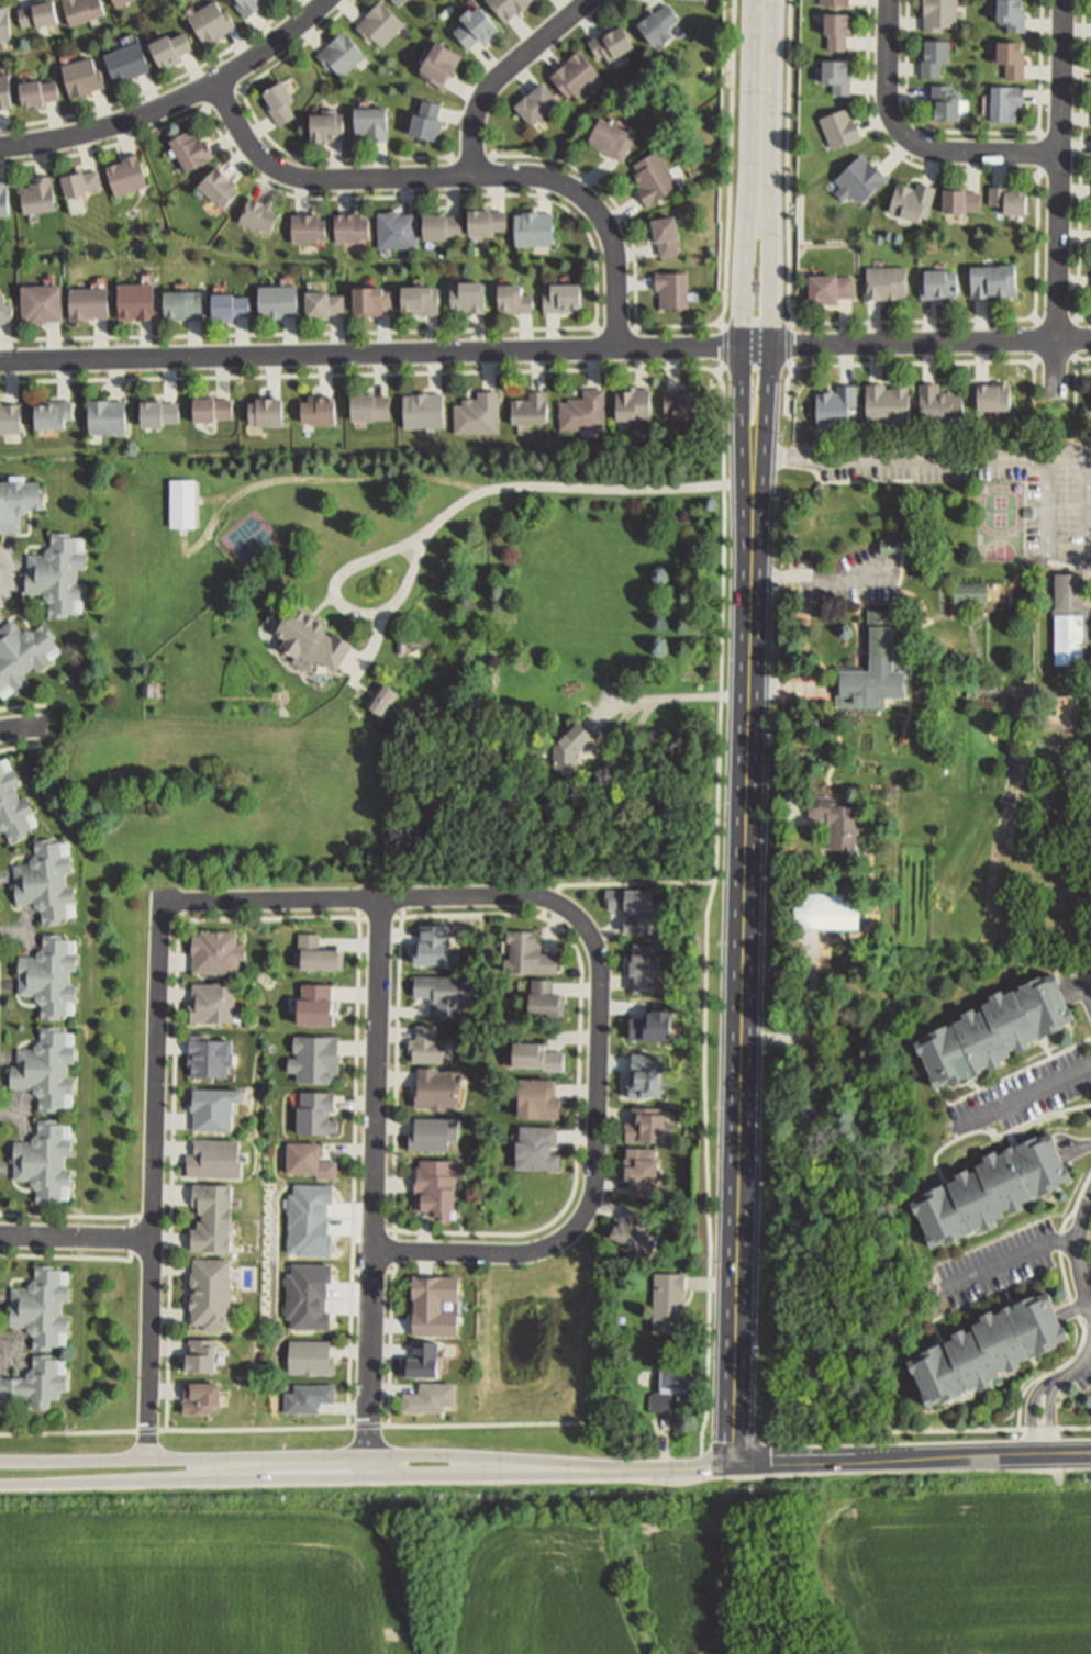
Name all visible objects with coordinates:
building: (695, 0)
building: (119, 1)
building: (399, 1)
building: (835, 1)
building: (248, 4)
building: (509, 7)
building: (82, 9)
building: (37, 12)
building: (939, 13)
building: (1013, 13)
building: (212, 20)
building: (381, 21)
building: (659, 22)
building: (4, 23)
building: (475, 25)
building: (838, 27)
building: (611, 42)
road: (765, 45)
building: (169, 47)
building: (342, 53)
building: (934, 55)
building: (1013, 56)
building: (127, 60)
building: (439, 63)
road: (502, 71)
building: (838, 74)
building: (81, 75)
building: (576, 75)
road: (159, 88)
road: (242, 90)
building: (3, 91)
building: (37, 91)
road: (222, 98)
building: (279, 100)
building: (946, 100)
building: (537, 101)
building: (1005, 101)
road: (175, 102)
road: (207, 110)
building: (427, 119)
building: (371, 121)
building: (327, 125)
building: (839, 127)
road: (980, 132)
road: (1040, 134)
road: (268, 136)
building: (614, 137)
road: (1045, 137)
road: (909, 143)
building: (190, 147)
road: (767, 149)
road: (474, 159)
road: (1081, 163)
road: (1057, 169)
road: (1061, 171)
building: (126, 174)
road: (459, 175)
road: (1039, 175)
building: (653, 176)
building: (859, 178)
building: (79, 181)
building: (218, 185)
building: (36, 193)
building: (2, 198)
building: (1009, 198)
building: (961, 199)
building: (913, 200)
building: (258, 214)
building: (486, 220)
building: (350, 224)
building: (442, 224)
building: (308, 226)
building: (534, 226)
building: (397, 228)
building: (665, 234)
road: (595, 253)
building: (994, 279)
building: (886, 281)
building: (939, 282)
building: (831, 286)
building: (671, 288)
building: (468, 294)
building: (563, 295)
building: (421, 298)
building: (514, 298)
building: (278, 299)
building: (135, 300)
building: (371, 300)
building: (38, 302)
building: (87, 302)
building: (182, 302)
building: (323, 303)
building: (229, 305)
building: (4, 310)
road: (744, 312)
road: (1078, 318)
road: (1036, 320)
road: (979, 321)
road: (794, 323)
road: (1039, 324)
road: (708, 325)
road: (723, 325)
road: (638, 327)
road: (597, 328)
road: (617, 332)
road: (1075, 339)
road: (791, 344)
road: (725, 348)
road: (528, 350)
road: (1078, 360)
road: (1035, 361)
road: (913, 364)
road: (793, 366)
road: (722, 371)
road: (772, 372)
road: (1059, 377)
road: (1077, 380)
building: (994, 395)
building: (938, 401)
building: (633, 402)
building: (682, 402)
building: (888, 402)
building: (836, 403)
building: (369, 405)
building: (210, 407)
building: (530, 407)
building: (319, 409)
building: (423, 409)
building: (583, 410)
building: (265, 411)
building: (158, 412)
building: (52, 413)
building: (478, 413)
building: (105, 415)
building: (9, 417)
road: (892, 454)
road: (318, 477)
building: (819, 488)
building: (16, 502)
building: (183, 502)
road: (463, 502)
building: (1028, 511)
building: (890, 541)
road: (1089, 552)
road: (724, 561)
building: (56, 573)
road: (817, 573)
road: (5, 577)
building: (968, 591)
building: (1069, 618)
building: (312, 638)
building: (22, 651)
building: (873, 667)
road: (788, 685)
building: (149, 689)
road: (665, 694)
building: (383, 700)
road: (23, 707)
building: (811, 720)
road: (22, 727)
building: (944, 744)
building: (570, 745)
road: (21, 747)
building: (1049, 749)
building: (14, 802)
building: (1009, 802)
building: (1054, 817)
building: (835, 819)
building: (45, 881)
road: (619, 884)
road: (369, 898)
building: (632, 907)
building: (824, 910)
building: (215, 951)
building: (527, 953)
building: (315, 954)
building: (644, 966)
road: (582, 976)
building: (45, 980)
building: (445, 992)
road: (1089, 994)
building: (544, 999)
road: (744, 999)
building: (212, 1003)
building: (318, 1006)
road: (806, 1012)
building: (994, 1031)
building: (426, 1044)
building: (213, 1058)
building: (314, 1059)
building: (538, 1060)
building: (43, 1073)
road: (1015, 1074)
road: (978, 1086)
building: (438, 1088)
road: (1022, 1097)
building: (538, 1098)
road: (1005, 1106)
building: (804, 1111)
building: (314, 1114)
building: (646, 1126)
building: (433, 1135)
road: (998, 1135)
road: (1077, 1148)
building: (536, 1149)
building: (218, 1160)
building: (308, 1160)
road: (355, 1161)
road: (396, 1161)
building: (42, 1163)
road: (174, 1165)
building: (641, 1171)
road: (597, 1174)
road: (155, 1175)
road: (372, 1178)
building: (435, 1187)
building: (991, 1189)
road: (1077, 1205)
road: (70, 1217)
road: (154, 1217)
road: (169, 1217)
building: (212, 1218)
road: (133, 1220)
building: (633, 1230)
road: (77, 1237)
road: (133, 1238)
road: (1061, 1243)
road: (1078, 1251)
road: (69, 1258)
road: (1010, 1260)
road: (375, 1272)
road: (1087, 1273)
road: (1065, 1275)
building: (210, 1293)
building: (669, 1301)
building: (41, 1304)
road: (1075, 1307)
road: (1076, 1309)
road: (1087, 1341)
building: (988, 1349)
park: (542, 1355)
building: (309, 1356)
building: (422, 1361)
road: (1075, 1370)
road: (1050, 1373)
building: (32, 1377)
building: (672, 1388)
building: (308, 1396)
building: (430, 1398)
building: (204, 1401)
road: (1033, 1415)
road: (1050, 1419)
road: (291, 1427)
road: (1071, 1428)
road: (1042, 1429)
road: (961, 1430)
road: (319, 1455)
road: (864, 1459)
road: (319, 1477)
crop: (559, 1566)

